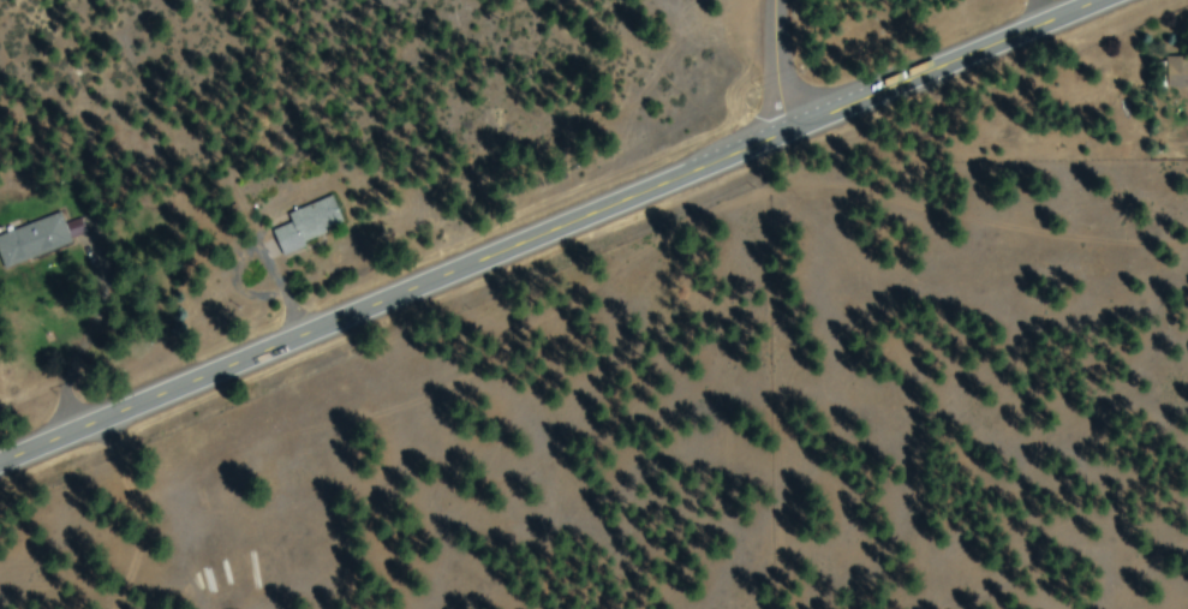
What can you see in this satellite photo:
road: (762, 68)
building: (1177, 73)
building: (309, 225)
road: (547, 234)
building: (34, 241)

